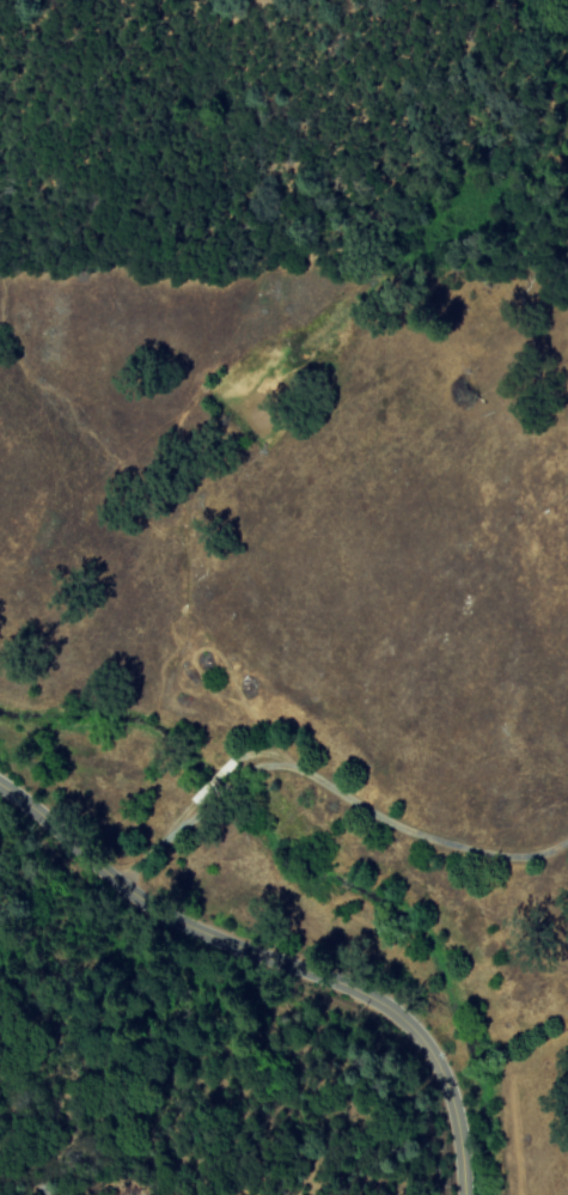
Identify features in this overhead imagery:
road: (329, 786)
road: (276, 962)

